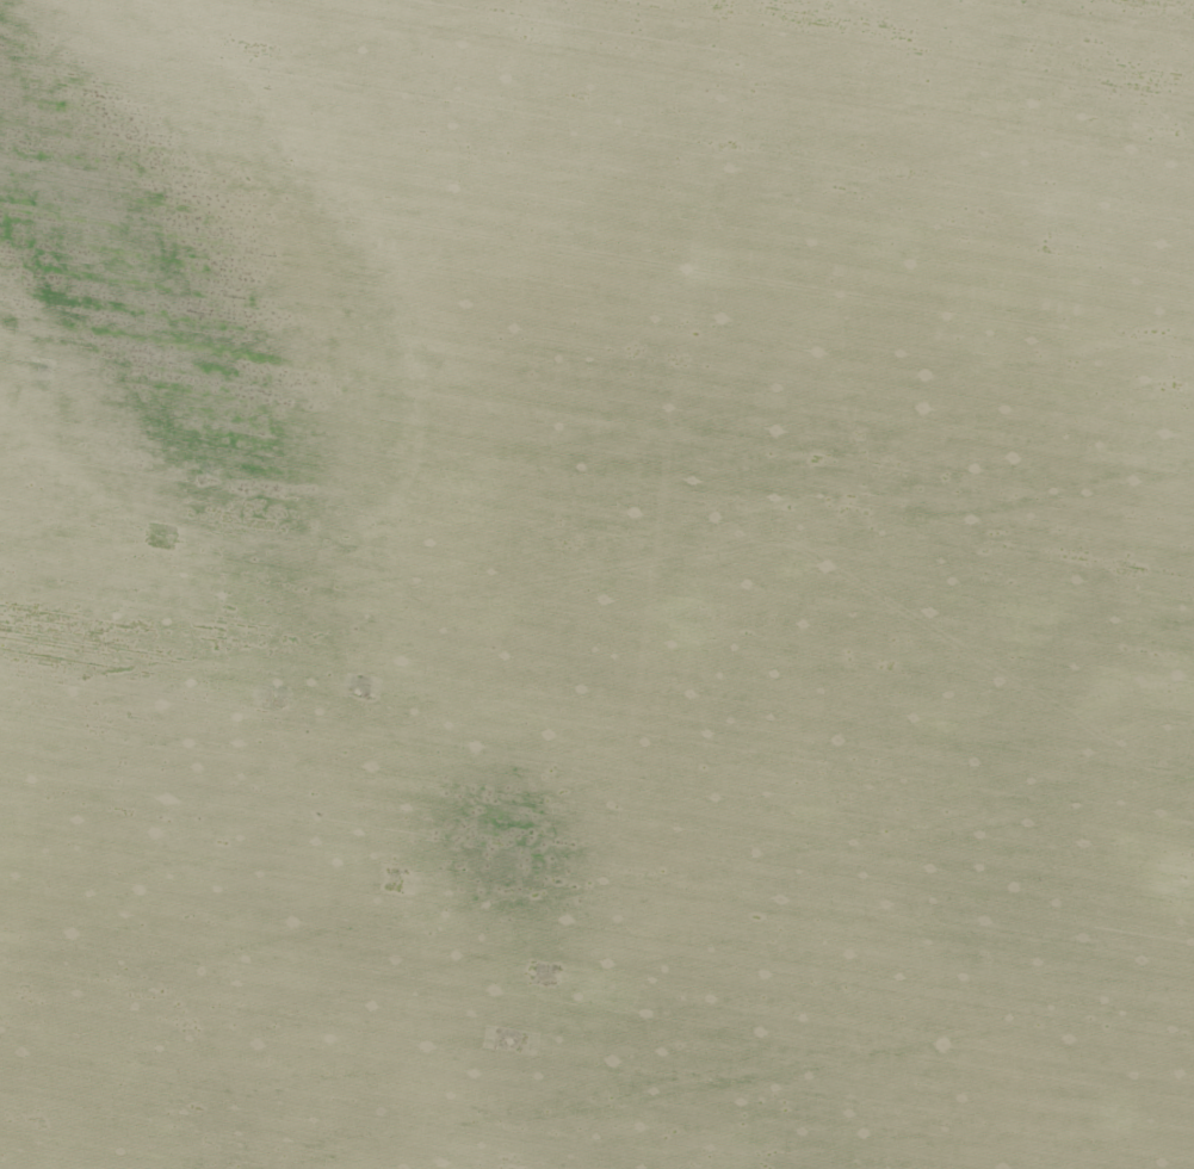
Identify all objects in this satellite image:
landfill: (86, 470)

